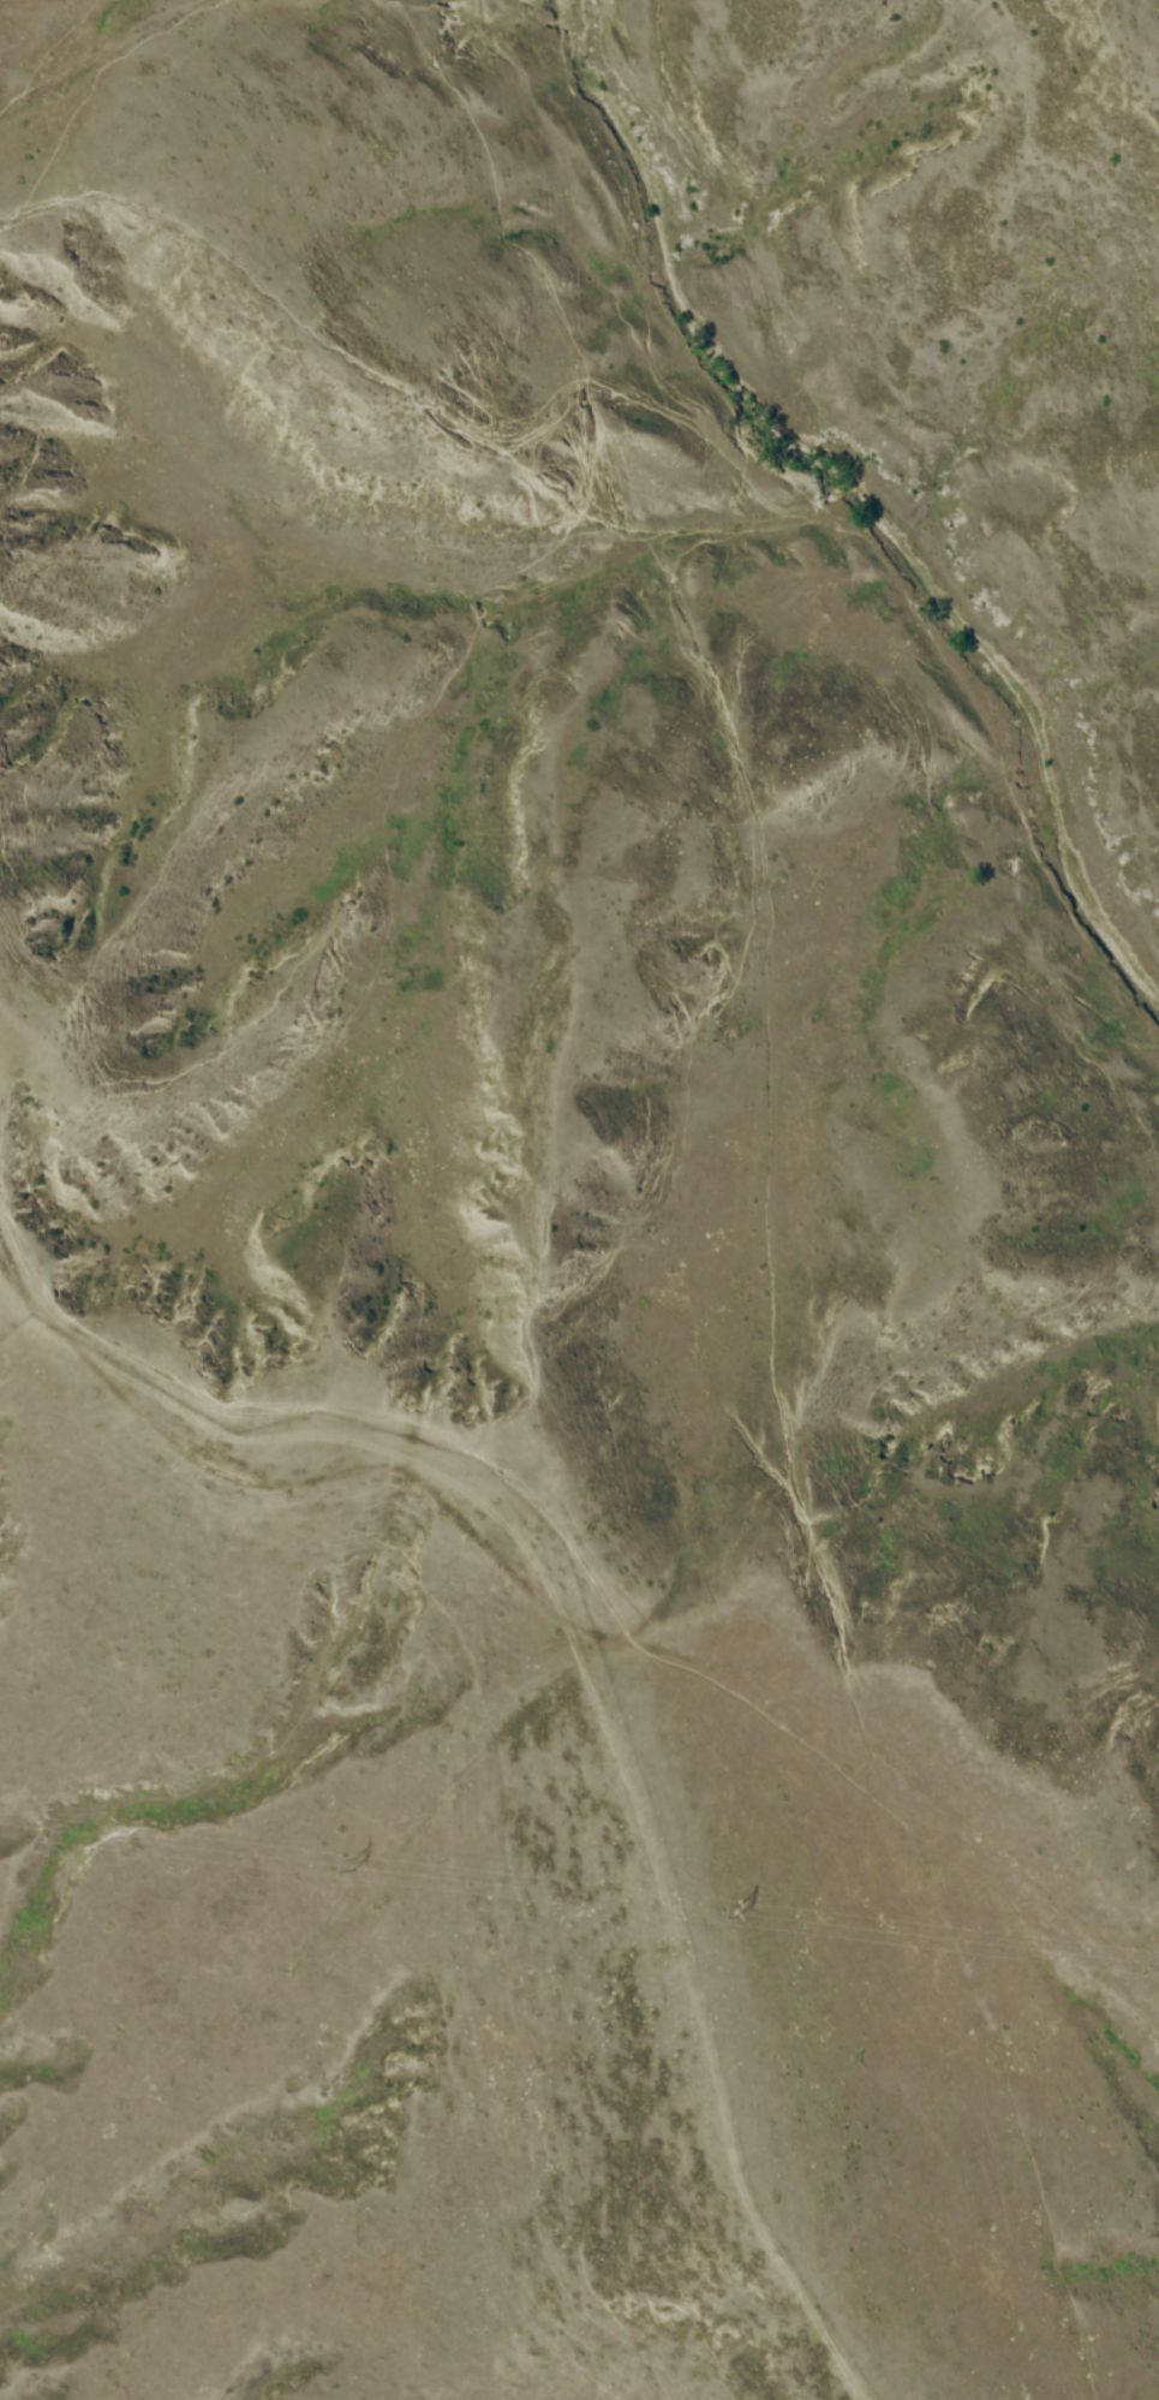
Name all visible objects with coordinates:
power tower: (354, 1866)
power tower: (739, 1913)

